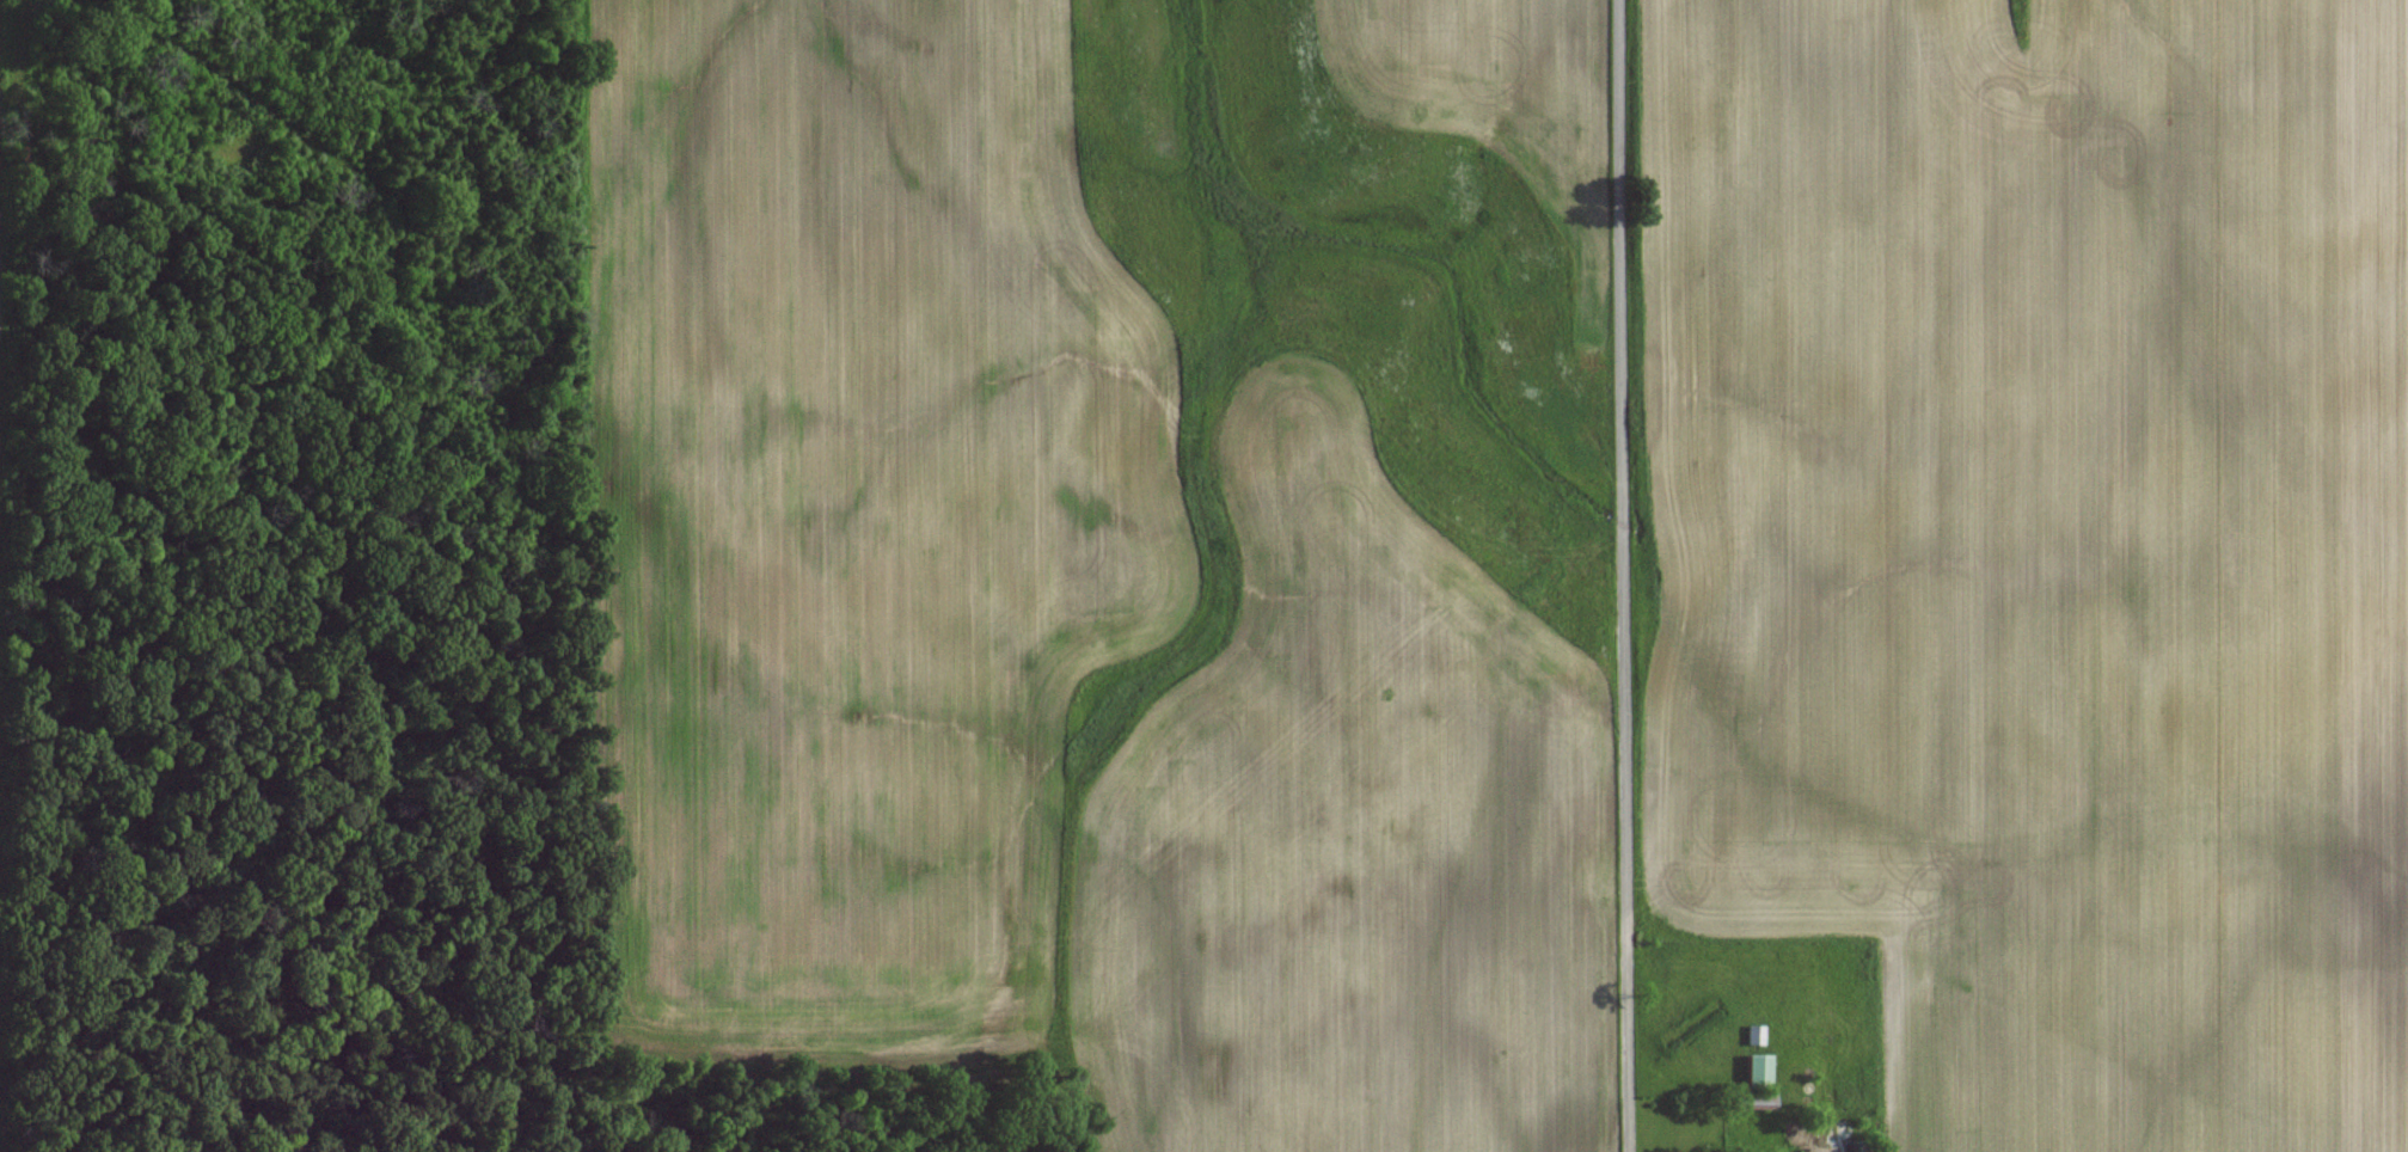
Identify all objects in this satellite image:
road: (1623, 576)
building: (1760, 1079)

